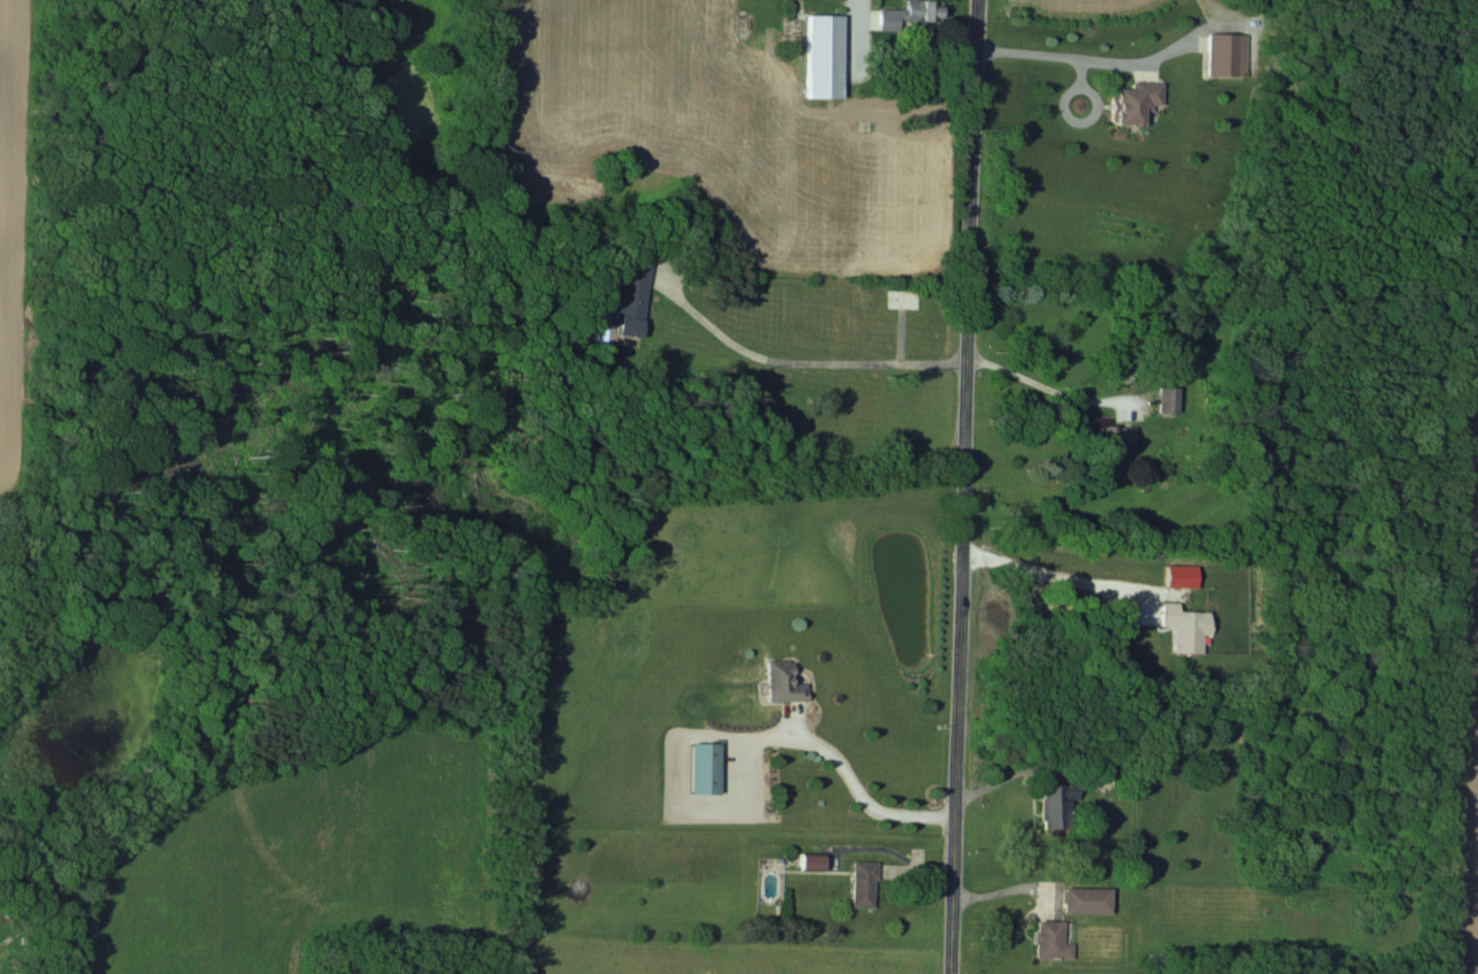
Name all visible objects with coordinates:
road: (853, 5)
crop: (1090, 5)
building: (927, 9)
building: (1229, 53)
building: (828, 55)
road: (1067, 56)
building: (1139, 100)
building: (636, 293)
building: (907, 298)
road: (804, 362)
road: (1052, 389)
building: (1170, 399)
building: (1131, 436)
road: (965, 487)
road: (1049, 574)
crop: (1462, 659)
building: (788, 682)
building: (710, 767)
road: (1003, 778)
road: (855, 792)
building: (1061, 802)
crop: (290, 859)
building: (818, 861)
building: (867, 883)
road: (1002, 889)
building: (1090, 899)
building: (1055, 939)

